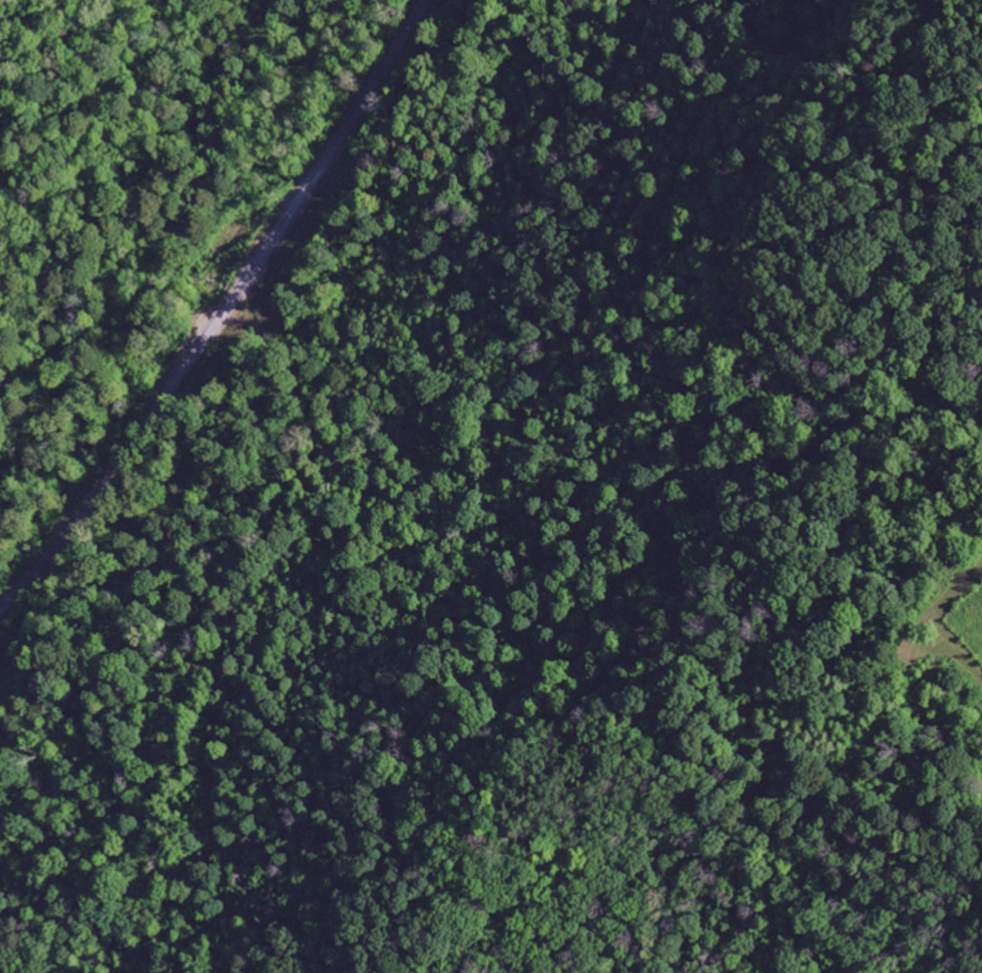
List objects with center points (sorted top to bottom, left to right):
road: (478, 10)
road: (238, 321)

